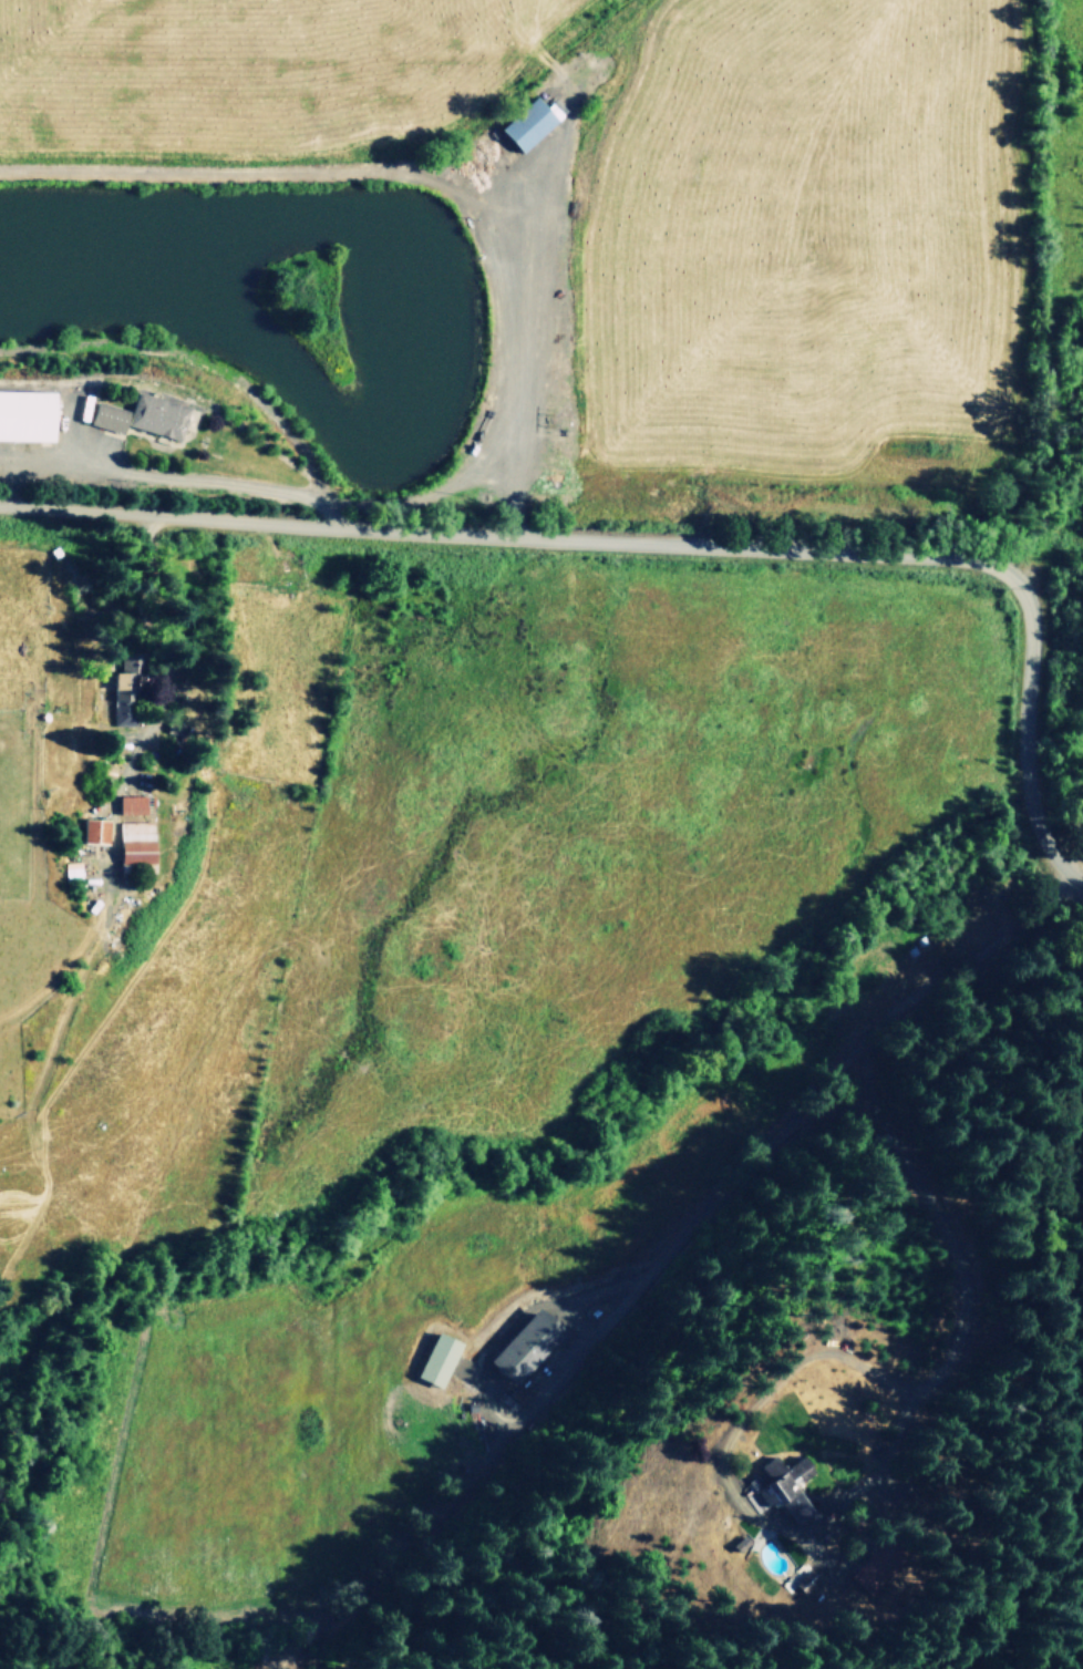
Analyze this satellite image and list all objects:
building: (529, 123)
building: (28, 414)
building: (146, 415)
road: (673, 544)
road: (1065, 826)
building: (95, 831)
building: (136, 843)
building: (70, 870)
road: (670, 1261)
building: (528, 1345)
building: (440, 1359)
building: (787, 1486)
building: (876, 1566)

